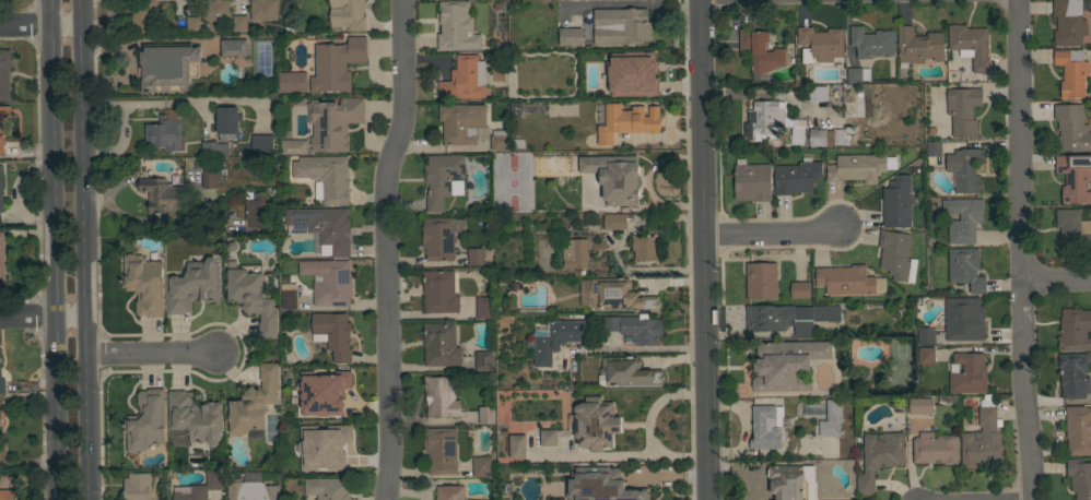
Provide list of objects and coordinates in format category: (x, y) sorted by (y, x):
building: (215, 10)
building: (263, 10)
building: (348, 14)
building: (142, 16)
building: (1068, 22)
building: (192, 23)
building: (239, 23)
road: (42, 25)
building: (620, 25)
building: (456, 26)
building: (570, 36)
building: (871, 41)
building: (821, 44)
building: (918, 45)
building: (970, 45)
building: (233, 47)
building: (760, 49)
building: (335, 63)
building: (167, 66)
building: (648, 69)
building: (1071, 71)
building: (4, 73)
building: (631, 73)
building: (857, 74)
building: (464, 79)
building: (292, 82)
building: (598, 91)
road: (756, 93)
building: (817, 93)
building: (515, 109)
building: (963, 110)
building: (765, 117)
building: (227, 120)
building: (626, 121)
building: (332, 122)
building: (460, 122)
building: (3, 126)
building: (1071, 128)
building: (163, 133)
road: (658, 133)
building: (821, 138)
building: (497, 140)
building: (261, 143)
building: (293, 146)
building: (213, 148)
building: (932, 148)
building: (203, 164)
building: (552, 166)
building: (858, 167)
building: (965, 169)
building: (325, 177)
building: (614, 177)
building: (795, 177)
building: (1074, 177)
building: (441, 178)
building: (208, 179)
building: (751, 180)
building: (0, 190)
building: (162, 195)
building: (896, 202)
building: (256, 211)
building: (962, 218)
building: (0, 219)
building: (614, 222)
building: (321, 227)
building: (1072, 228)
road: (770, 235)
building: (439, 237)
building: (644, 247)
road: (615, 248)
road: (55, 249)
road: (386, 249)
road: (702, 249)
road: (89, 250)
road: (1019, 250)
building: (575, 252)
building: (1, 254)
building: (895, 255)
building: (476, 257)
building: (965, 267)
building: (761, 279)
building: (845, 279)
building: (328, 281)
road: (1055, 281)
building: (143, 284)
building: (192, 285)
building: (800, 289)
building: (439, 291)
building: (620, 295)
building: (251, 298)
building: (288, 298)
building: (483, 307)
road: (45, 316)
building: (788, 317)
building: (963, 319)
building: (634, 328)
building: (1075, 330)
building: (332, 334)
building: (926, 335)
building: (558, 338)
building: (439, 344)
road: (629, 346)
road: (154, 353)
building: (926, 355)
building: (483, 360)
building: (786, 364)
building: (626, 371)
building: (967, 372)
building: (1074, 376)
building: (1, 381)
building: (322, 392)
building: (441, 395)
building: (253, 402)
building: (919, 405)
building: (485, 415)
building: (1, 417)
building: (195, 417)
building: (831, 419)
building: (145, 420)
building: (595, 424)
road: (648, 426)
building: (765, 428)
building: (1078, 429)
building: (548, 437)
building: (982, 439)
building: (517, 445)
building: (327, 447)
building: (935, 448)
building: (441, 450)
building: (878, 456)
building: (481, 466)
building: (1079, 477)
building: (787, 481)
building: (600, 485)
building: (137, 486)
building: (201, 487)
building: (327, 488)
building: (251, 491)
building: (449, 492)
building: (8, 495)
building: (480, 499)

